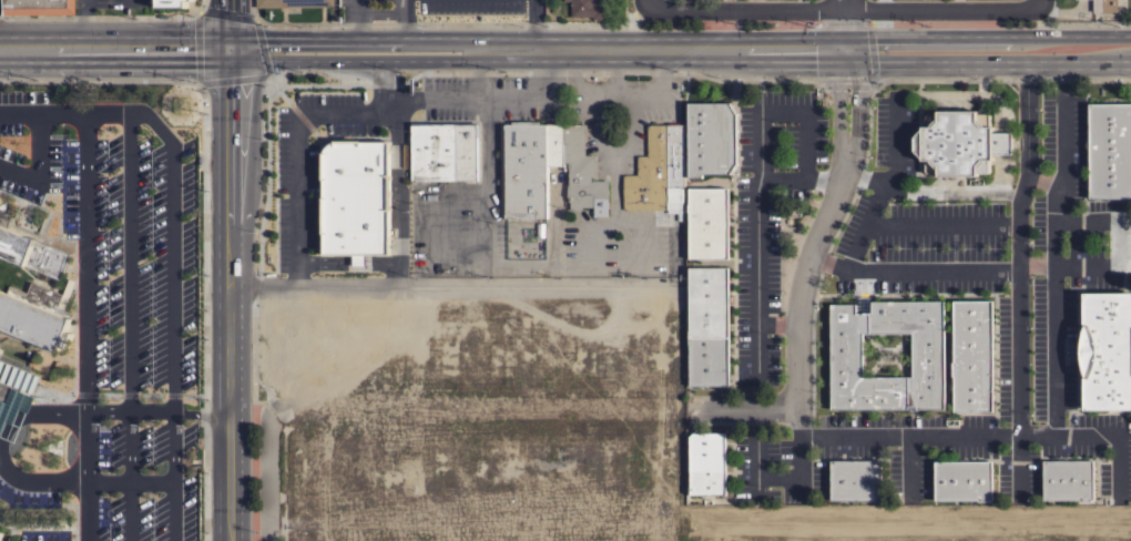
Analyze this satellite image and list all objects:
traffic signals: (225, 2)
building: (170, 3)
building: (293, 3)
road: (646, 3)
road: (357, 6)
building: (1104, 6)
building: (39, 7)
road: (844, 8)
building: (590, 9)
parking lot: (403, 11)
road: (366, 12)
road: (85, 17)
road: (224, 18)
road: (404, 20)
road: (534, 23)
road: (134, 33)
road: (986, 34)
traffic signals: (268, 40)
road: (374, 41)
road: (662, 48)
traffic signals: (846, 50)
road: (987, 60)
traffic signals: (185, 61)
road: (241, 61)
road: (385, 86)
traffic signals: (225, 92)
road: (511, 99)
road: (434, 100)
road: (346, 113)
road: (893, 136)
building: (711, 139)
building: (959, 143)
building: (1109, 150)
building: (442, 151)
building: (547, 170)
building: (660, 172)
road: (801, 176)
road: (1042, 177)
road: (757, 184)
building: (356, 198)
road: (868, 218)
road: (942, 221)
building: (707, 222)
road: (815, 245)
road: (1117, 259)
road: (1056, 264)
road: (930, 266)
road: (1017, 275)
road: (441, 279)
building: (32, 288)
road: (226, 288)
road: (172, 292)
road: (128, 296)
parking lot: (111, 321)
road: (777, 323)
road: (84, 325)
building: (709, 326)
building: (1105, 350)
building: (846, 355)
building: (972, 355)
building: (16, 378)
road: (745, 407)
road: (128, 411)
road: (200, 415)
road: (987, 432)
building: (707, 463)
building: (1068, 479)
building: (855, 480)
building: (964, 480)
road: (104, 481)
road: (266, 481)
road: (149, 482)
road: (125, 511)
building: (1, 534)

